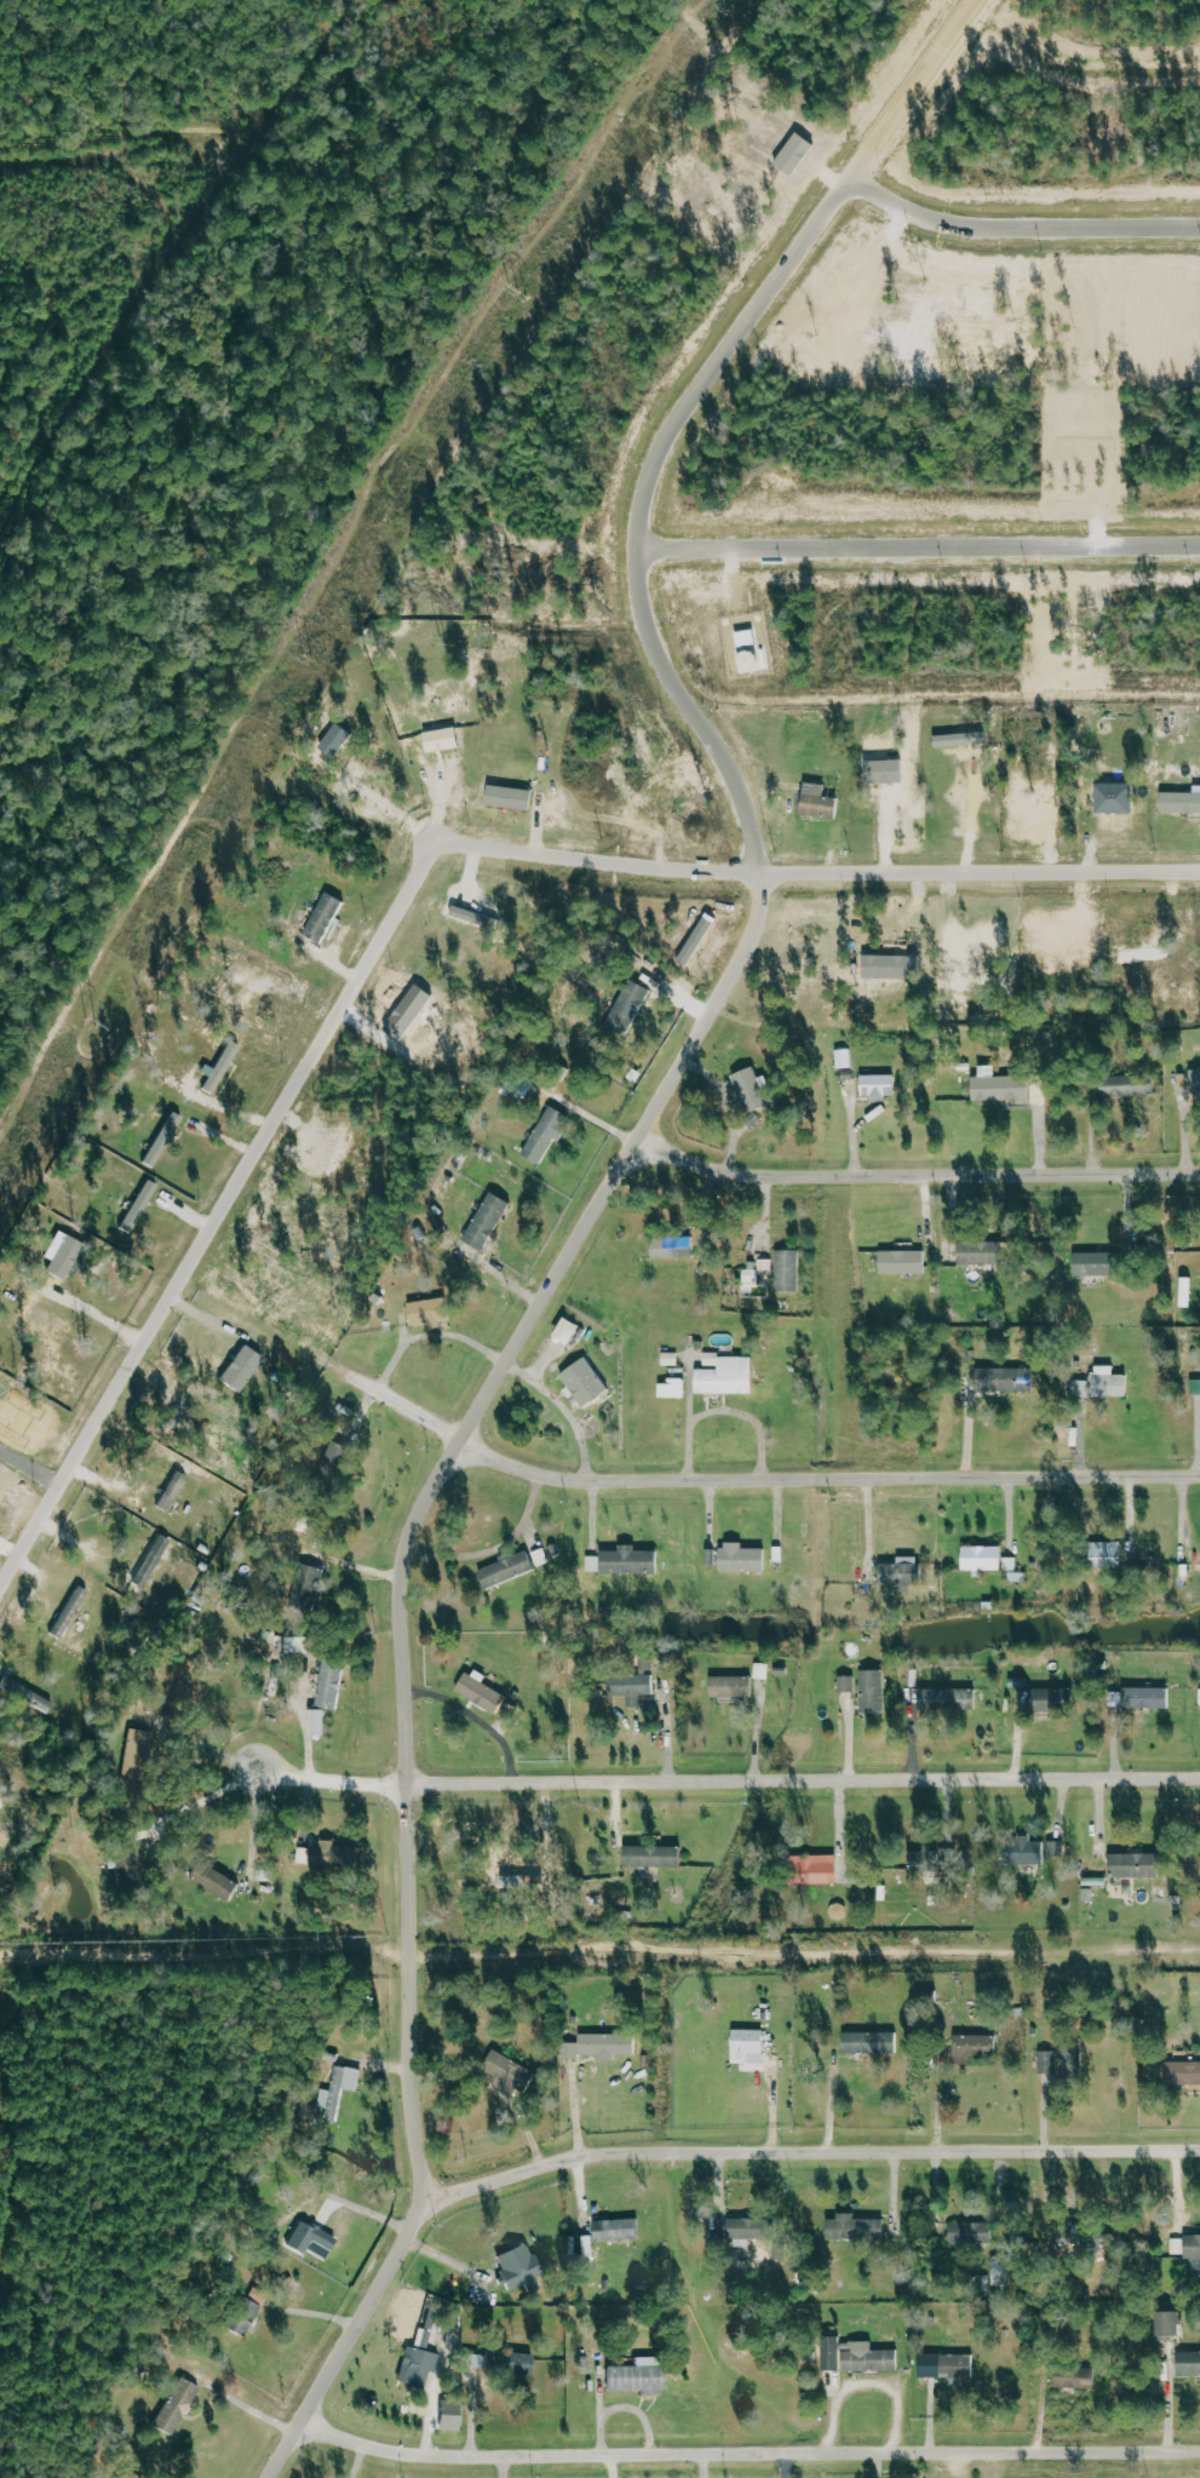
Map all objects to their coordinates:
power tower: (728, 11)
road: (1021, 229)
power tower: (522, 293)
road: (666, 478)
road: (929, 560)
building: (745, 639)
power tower: (302, 656)
building: (968, 728)
building: (334, 739)
building: (959, 739)
building: (507, 797)
building: (1112, 797)
building: (1179, 802)
building: (817, 805)
road: (413, 912)
building: (322, 917)
building: (626, 1009)
power tower: (87, 1023)
building: (729, 1048)
building: (220, 1067)
building: (1194, 1080)
building: (997, 1085)
building: (1125, 1085)
building: (877, 1086)
building: (750, 1089)
building: (546, 1132)
building: (161, 1140)
road: (626, 1161)
road: (915, 1177)
building: (138, 1205)
building: (486, 1221)
building: (671, 1246)
building: (976, 1252)
building: (62, 1254)
building: (902, 1262)
building: (1090, 1263)
building: (758, 1269)
building: (787, 1270)
building: (426, 1312)
building: (564, 1331)
building: (670, 1359)
building: (241, 1369)
building: (724, 1375)
building: (1003, 1379)
building: (584, 1381)
building: (1099, 1384)
building: (1195, 1387)
building: (672, 1388)
building: (333, 1464)
road: (673, 1480)
building: (171, 1491)
building: (1104, 1554)
building: (740, 1558)
building: (981, 1558)
building: (154, 1559)
building: (627, 1561)
building: (592, 1564)
building: (1010, 1564)
building: (506, 1570)
building: (900, 1573)
building: (306, 1587)
building: (68, 1613)
building: (295, 1644)
building: (645, 1667)
building: (762, 1670)
building: (328, 1683)
building: (846, 1683)
building: (630, 1685)
building: (730, 1687)
building: (478, 1691)
building: (872, 1691)
building: (25, 1694)
building: (947, 1698)
building: (1144, 1698)
building: (1049, 1699)
building: (317, 1722)
building: (136, 1750)
road: (729, 1782)
road: (203, 1801)
building: (329, 1851)
building: (125, 1852)
building: (1023, 1852)
building: (650, 1855)
building: (924, 1864)
building: (1132, 1865)
building: (810, 1869)
building: (214, 1881)
road: (412, 1972)
building: (869, 2042)
building: (599, 2044)
building: (751, 2046)
building: (971, 2047)
building: (1062, 2059)
building: (507, 2069)
building: (1182, 2072)
building: (339, 2088)
road: (810, 2149)
building: (855, 2227)
building: (615, 2229)
building: (745, 2230)
building: (970, 2232)
building: (1070, 2232)
building: (311, 2238)
building: (1187, 2247)
building: (518, 2267)
building: (246, 2316)
building: (1166, 2322)
building: (829, 2352)
building: (866, 2357)
building: (421, 2359)
building: (518, 2363)
building: (1188, 2363)
building: (945, 2364)
building: (1074, 2376)
building: (633, 2379)
building: (179, 2405)
building: (449, 2416)
road: (748, 2454)

